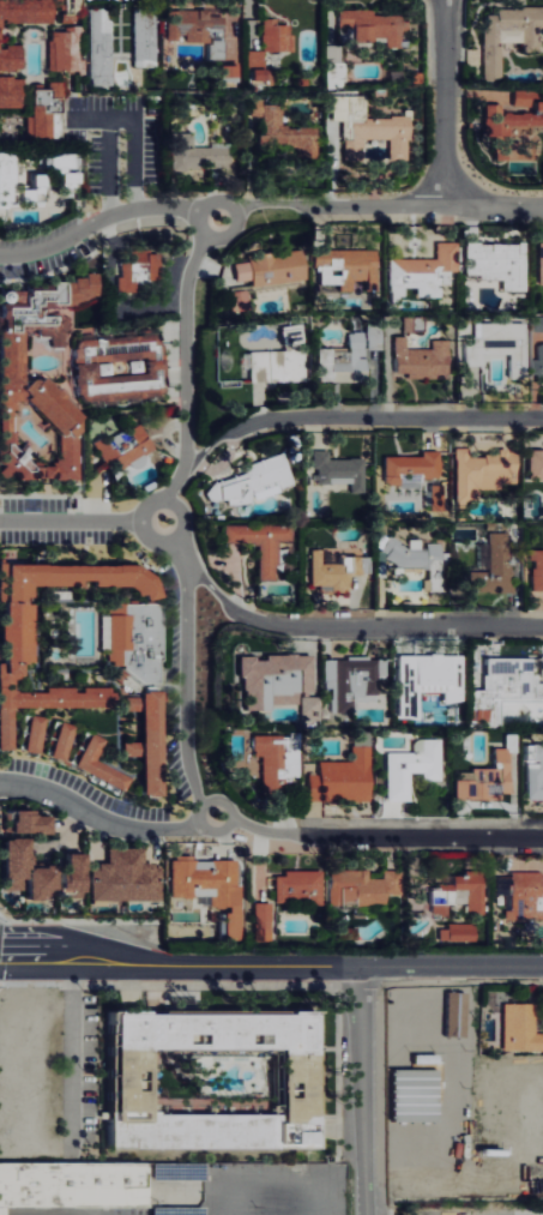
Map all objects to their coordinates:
building: (376, 24)
building: (2, 34)
building: (511, 34)
building: (209, 35)
building: (146, 36)
building: (279, 36)
building: (102, 46)
building: (67, 49)
building: (257, 65)
building: (12, 91)
road: (446, 102)
building: (46, 108)
road: (111, 116)
building: (286, 131)
building: (372, 132)
building: (198, 154)
building: (72, 178)
building: (8, 180)
road: (266, 202)
road: (374, 204)
road: (494, 206)
road: (97, 224)
road: (200, 228)
building: (542, 261)
building: (500, 263)
building: (349, 266)
building: (139, 267)
building: (274, 267)
building: (424, 271)
building: (241, 300)
road: (108, 306)
building: (412, 323)
building: (538, 324)
building: (292, 333)
building: (375, 336)
building: (500, 347)
building: (423, 359)
building: (344, 360)
building: (541, 362)
building: (259, 366)
road: (188, 367)
building: (121, 369)
building: (41, 378)
road: (382, 419)
building: (123, 439)
road: (205, 449)
building: (127, 451)
building: (536, 463)
building: (414, 469)
building: (340, 470)
building: (484, 471)
building: (255, 481)
building: (438, 497)
road: (149, 510)
road: (73, 522)
building: (500, 537)
building: (264, 543)
road: (182, 552)
building: (420, 558)
building: (538, 567)
building: (334, 572)
building: (495, 575)
road: (211, 587)
road: (387, 626)
building: (22, 630)
building: (139, 639)
building: (430, 679)
building: (282, 681)
building: (352, 681)
road: (186, 685)
building: (511, 687)
building: (134, 703)
building: (37, 733)
building: (65, 740)
building: (155, 742)
building: (134, 748)
building: (278, 762)
building: (102, 764)
building: (414, 766)
building: (535, 771)
building: (488, 776)
building: (344, 777)
road: (200, 813)
road: (98, 818)
building: (34, 822)
road: (260, 829)
road: (416, 836)
building: (30, 871)
building: (77, 873)
building: (127, 877)
building: (393, 879)
building: (300, 886)
building: (356, 886)
building: (212, 888)
building: (461, 894)
building: (526, 895)
building: (265, 921)
building: (459, 932)
road: (270, 967)
building: (521, 1027)
road: (79, 1043)
building: (126, 1083)
road: (361, 1090)
building: (72, 1186)
parking lot: (473, 1213)

